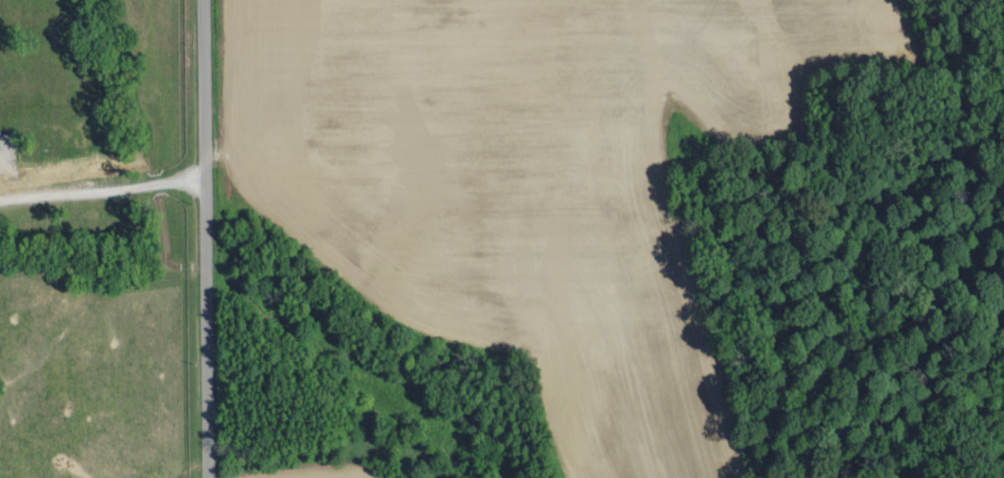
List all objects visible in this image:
road: (205, 239)

